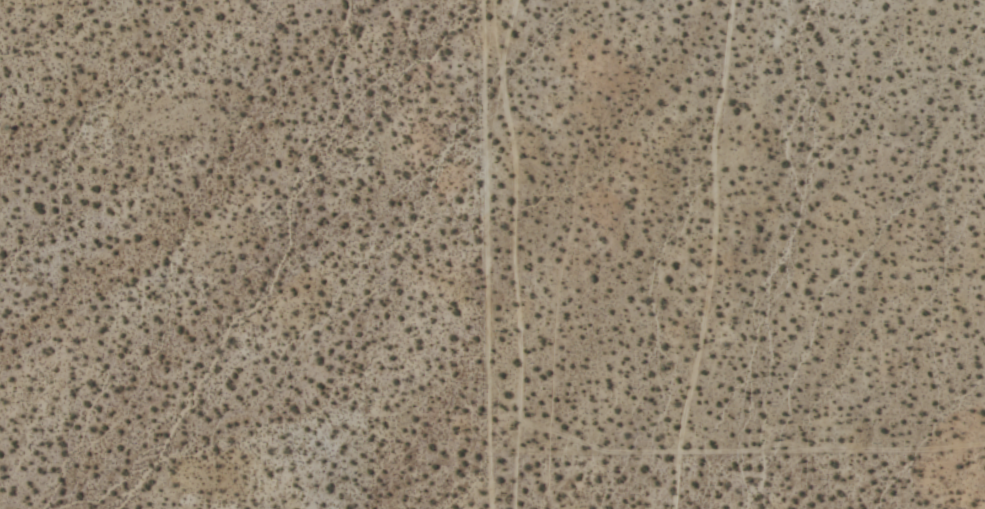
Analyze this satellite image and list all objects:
crop: (769, 253)

